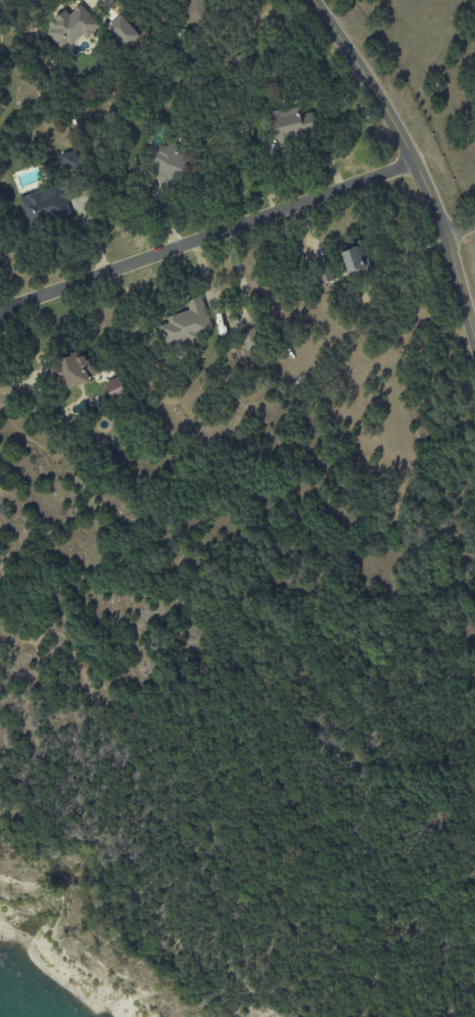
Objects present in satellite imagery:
road: (102, 2)
building: (195, 10)
building: (71, 27)
building: (122, 32)
building: (292, 126)
building: (69, 161)
road: (412, 163)
building: (167, 166)
building: (44, 206)
road: (460, 227)
road: (204, 237)
building: (355, 259)
building: (324, 273)
building: (185, 324)
building: (249, 340)
building: (74, 370)
building: (114, 389)
road: (40, 637)
road: (461, 675)
park: (272, 832)
road: (134, 888)

